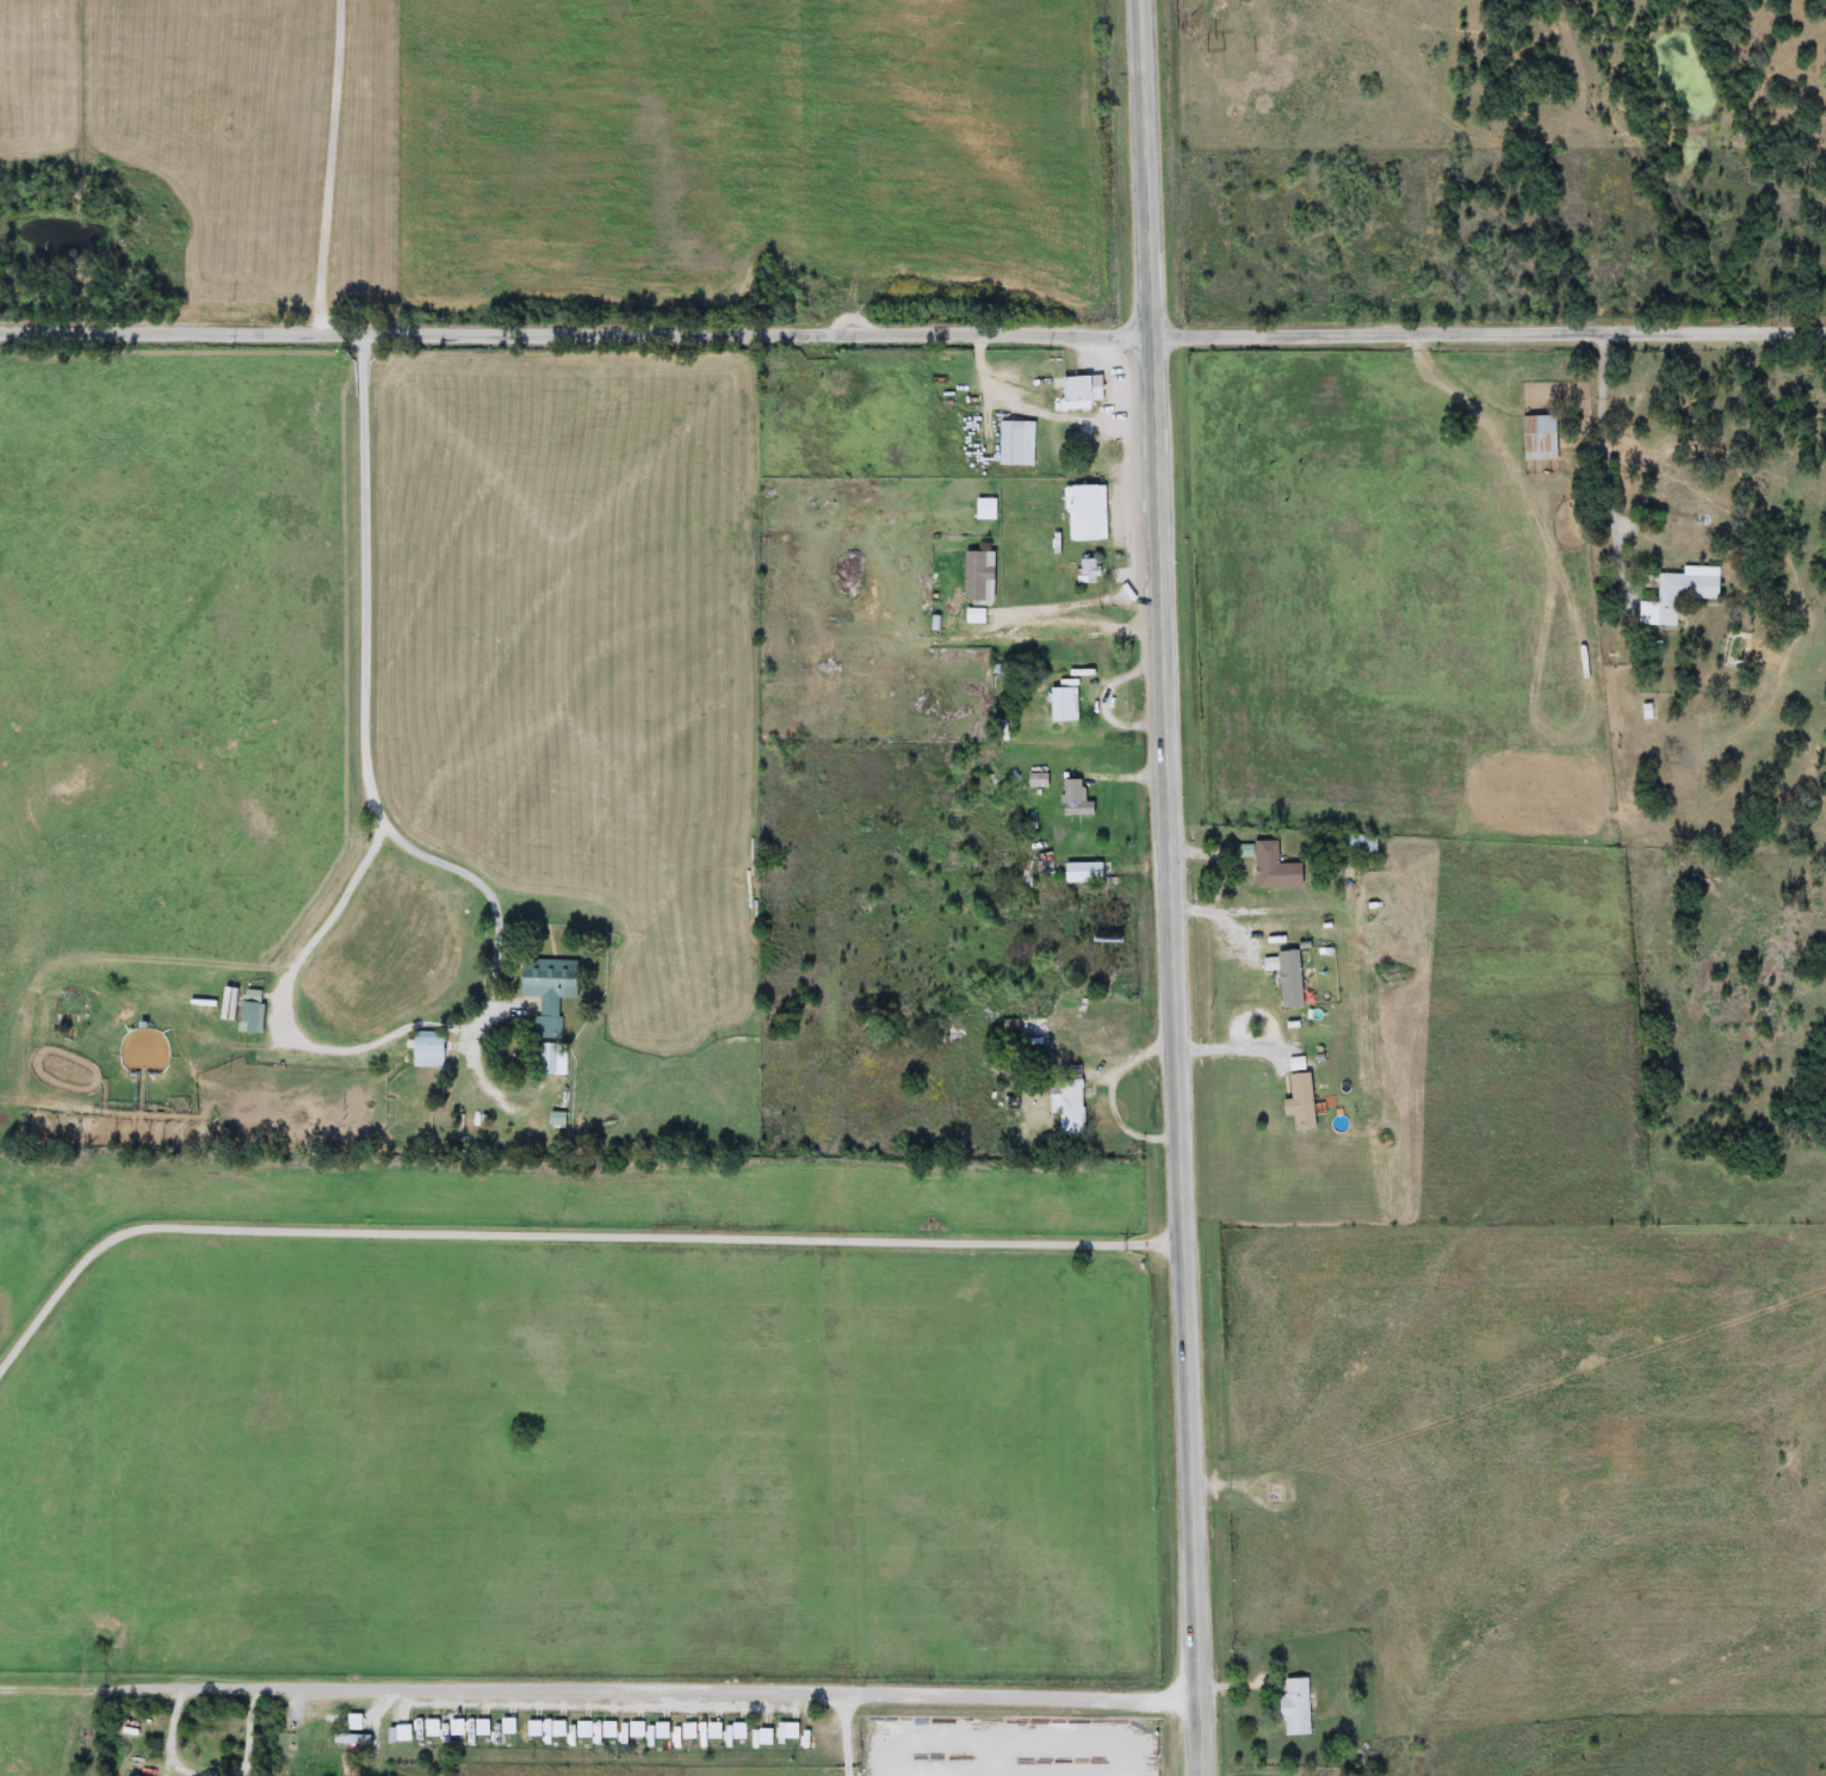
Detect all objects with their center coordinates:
road: (334, 165)
road: (578, 332)
road: (1491, 336)
building: (1081, 389)
building: (1536, 437)
building: (1015, 443)
building: (983, 509)
building: (1084, 513)
building: (977, 576)
building: (1678, 594)
building: (972, 615)
road: (1085, 629)
building: (1060, 704)
road: (1128, 771)
building: (1073, 799)
building: (1357, 842)
building: (1042, 866)
building: (1271, 868)
building: (1085, 872)
road: (469, 879)
road: (1172, 887)
building: (1287, 979)
building: (552, 989)
building: (255, 1004)
building: (432, 1048)
building: (1300, 1102)
building: (1066, 1106)
road: (561, 1232)
road: (129, 1687)
road: (731, 1687)
building: (1293, 1707)
road: (253, 1728)
road: (852, 1732)
building: (355, 1739)

